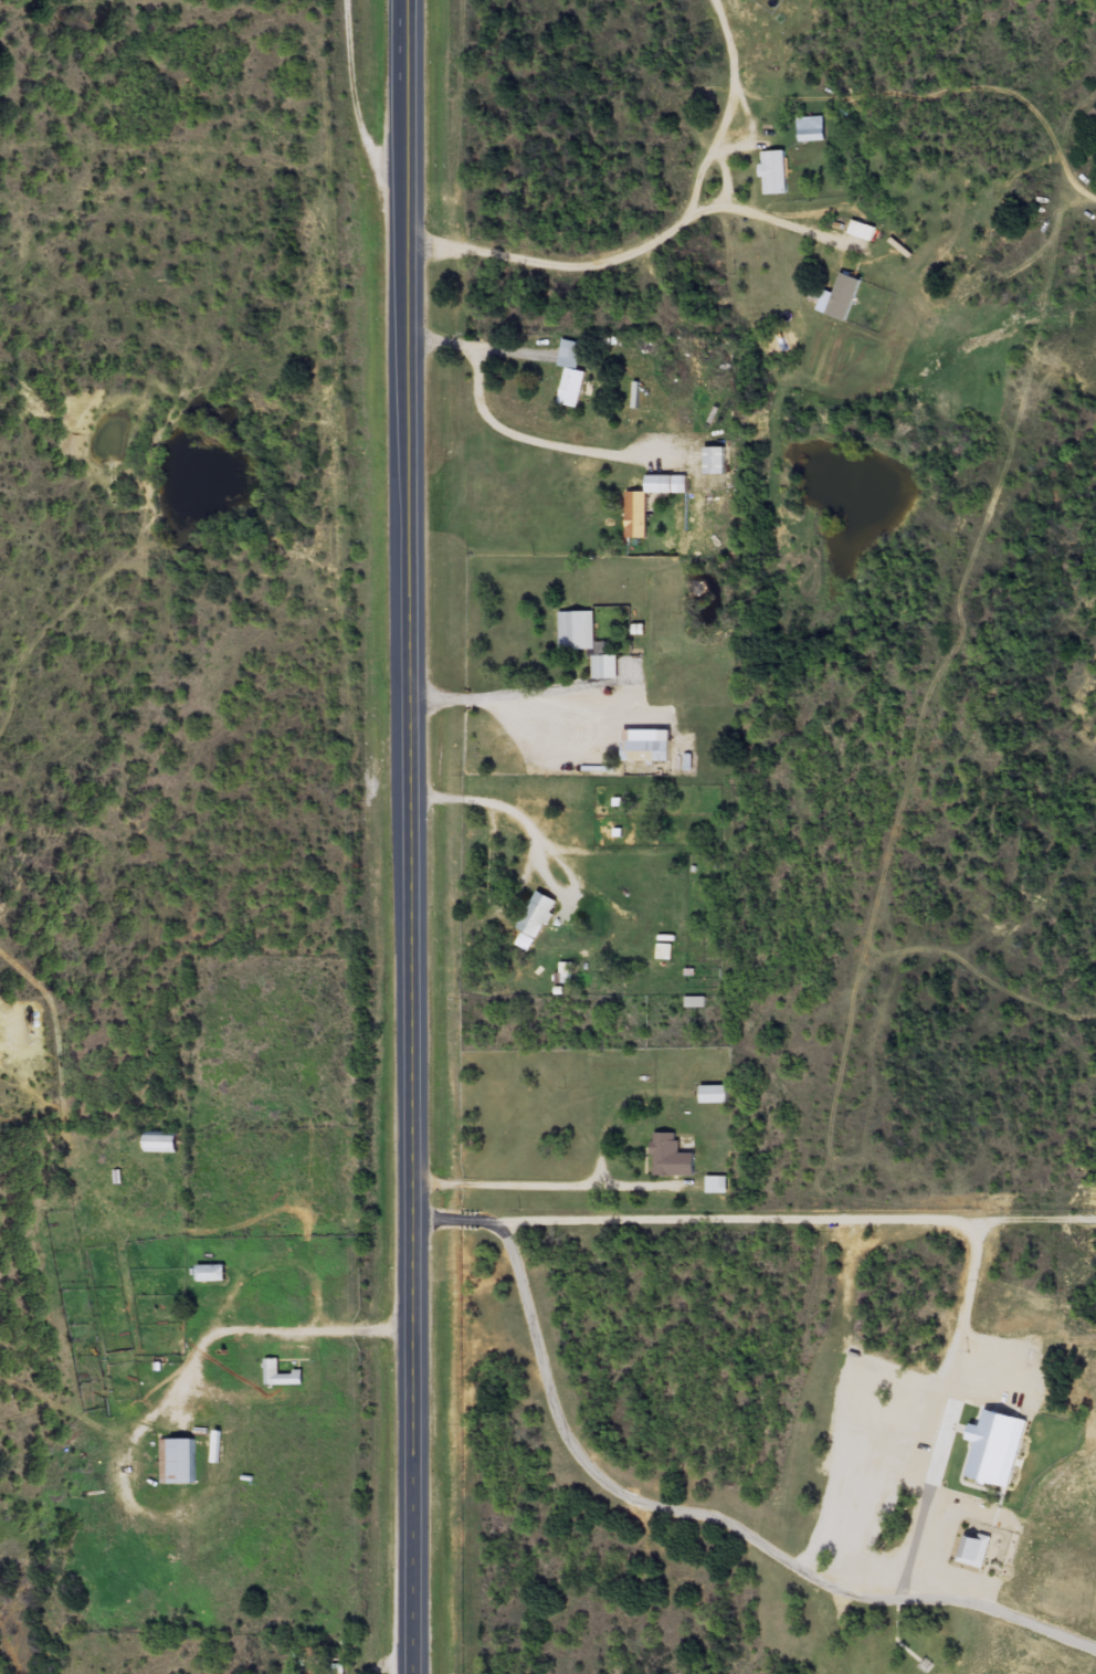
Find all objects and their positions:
building: (812, 128)
building: (777, 171)
road: (1073, 215)
building: (846, 296)
building: (573, 373)
building: (718, 460)
building: (639, 515)
road: (287, 518)
building: (578, 630)
building: (607, 666)
building: (651, 746)
road: (916, 803)
road: (408, 836)
building: (540, 914)
road: (214, 937)
building: (664, 951)
road: (986, 992)
building: (716, 1094)
building: (166, 1141)
building: (673, 1157)
building: (718, 1185)
building: (213, 1273)
building: (276, 1302)
building: (282, 1375)
road: (203, 1405)
building: (180, 1461)
building: (974, 1549)

